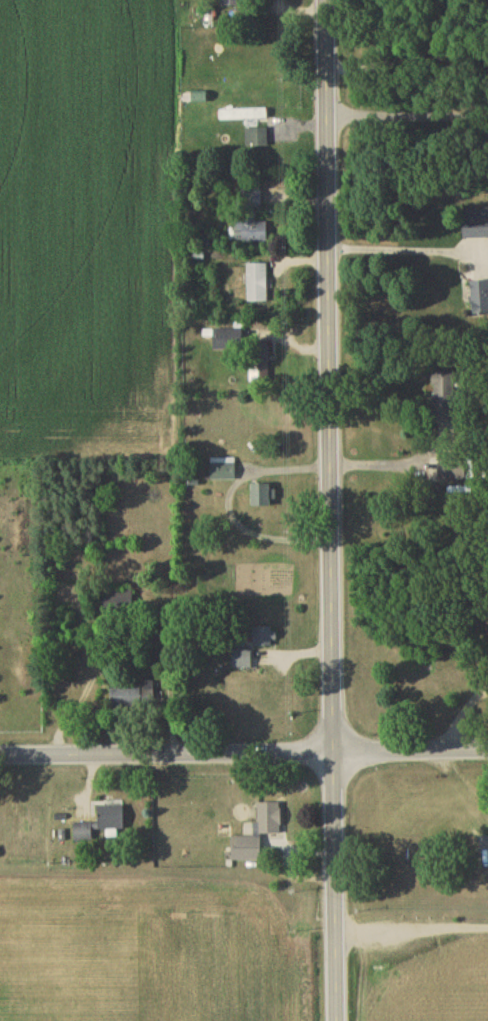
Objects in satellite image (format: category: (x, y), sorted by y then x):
building: (231, 4)
road: (398, 45)
road: (407, 104)
building: (243, 117)
building: (257, 140)
building: (255, 200)
building: (476, 230)
building: (255, 234)
road: (398, 251)
building: (258, 285)
building: (480, 300)
building: (229, 341)
building: (260, 366)
building: (445, 397)
road: (403, 469)
building: (221, 471)
building: (452, 471)
road: (229, 493)
building: (262, 497)
road: (330, 510)
building: (437, 513)
building: (119, 604)
building: (264, 639)
building: (242, 661)
building: (133, 698)
road: (464, 716)
road: (243, 751)
road: (465, 778)
building: (102, 825)
building: (258, 835)
road: (411, 918)

